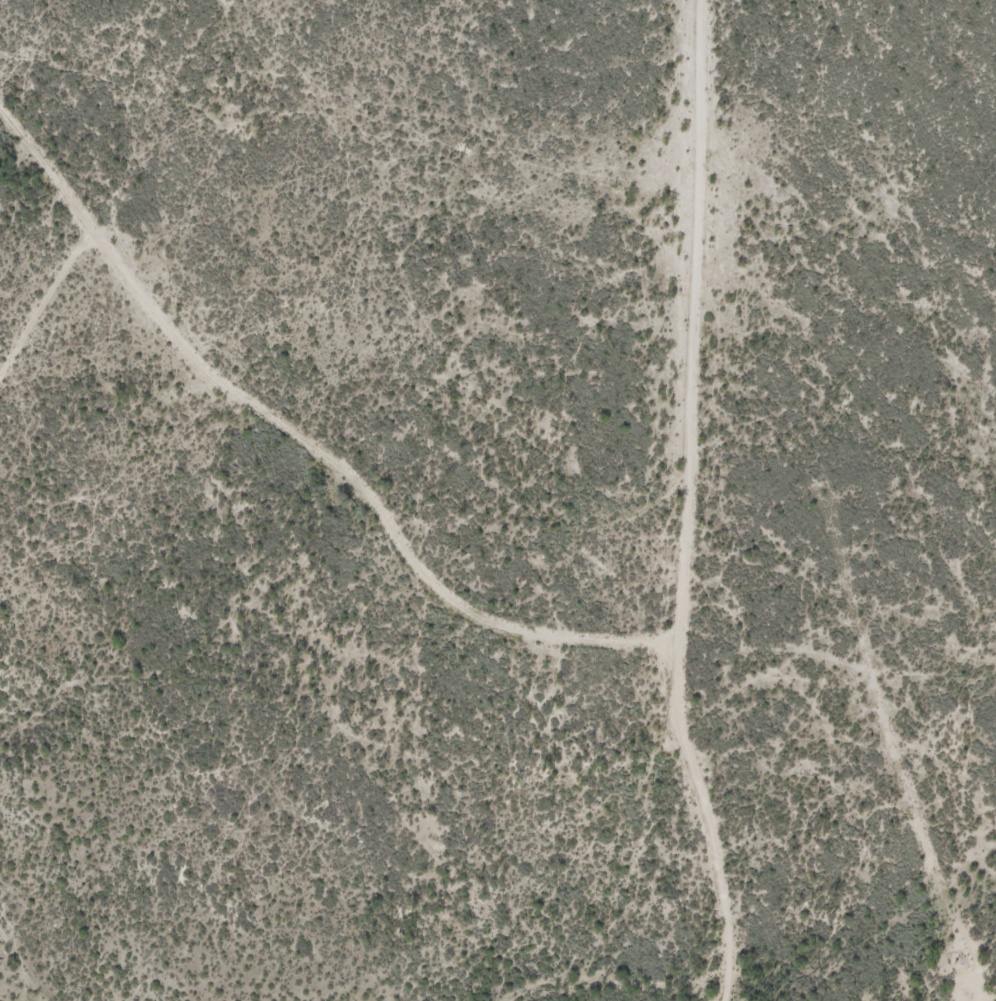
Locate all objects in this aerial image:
road: (303, 431)
road: (690, 505)

